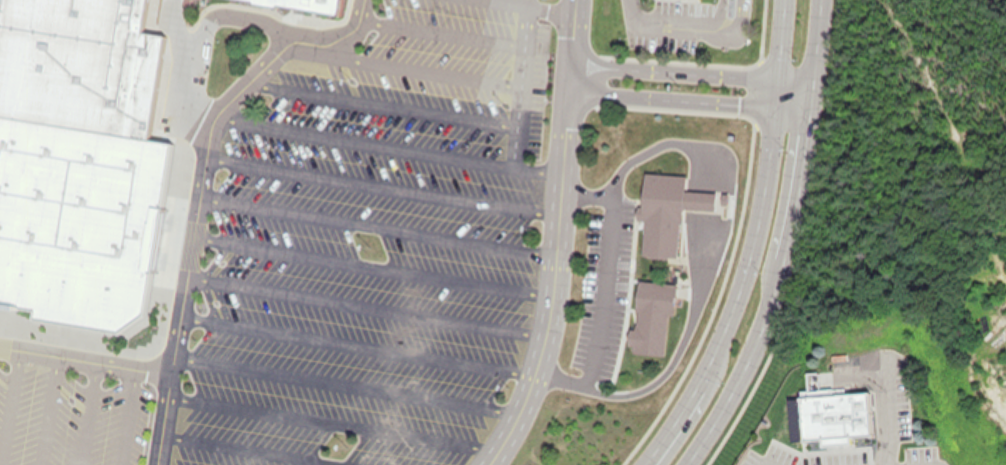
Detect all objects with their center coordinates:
building: (310, 3)
road: (541, 5)
road: (642, 19)
road: (698, 19)
road: (717, 21)
road: (439, 28)
road: (569, 32)
road: (772, 39)
road: (806, 54)
road: (398, 64)
road: (668, 71)
parking lot: (430, 78)
road: (566, 78)
road: (787, 79)
road: (515, 80)
road: (381, 98)
road: (682, 100)
road: (388, 137)
road: (205, 142)
building: (76, 160)
road: (380, 183)
building: (659, 216)
road: (376, 223)
road: (371, 263)
road: (737, 282)
road: (551, 286)
road: (766, 295)
parking lot: (352, 299)
road: (364, 304)
building: (648, 319)
road: (357, 340)
road: (84, 360)
road: (344, 381)
road: (881, 400)
road: (9, 403)
road: (45, 410)
road: (86, 413)
building: (832, 413)
parking lot: (71, 416)
road: (123, 416)
road: (162, 419)
road: (332, 421)
road: (260, 448)
road: (761, 464)

